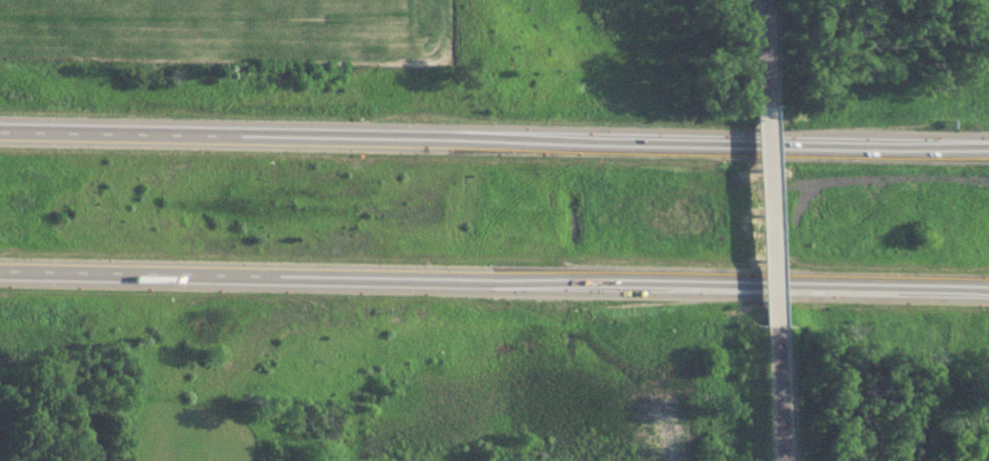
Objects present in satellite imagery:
road: (764, 51)
road: (494, 138)
road: (772, 215)
road: (494, 279)
road: (780, 394)

